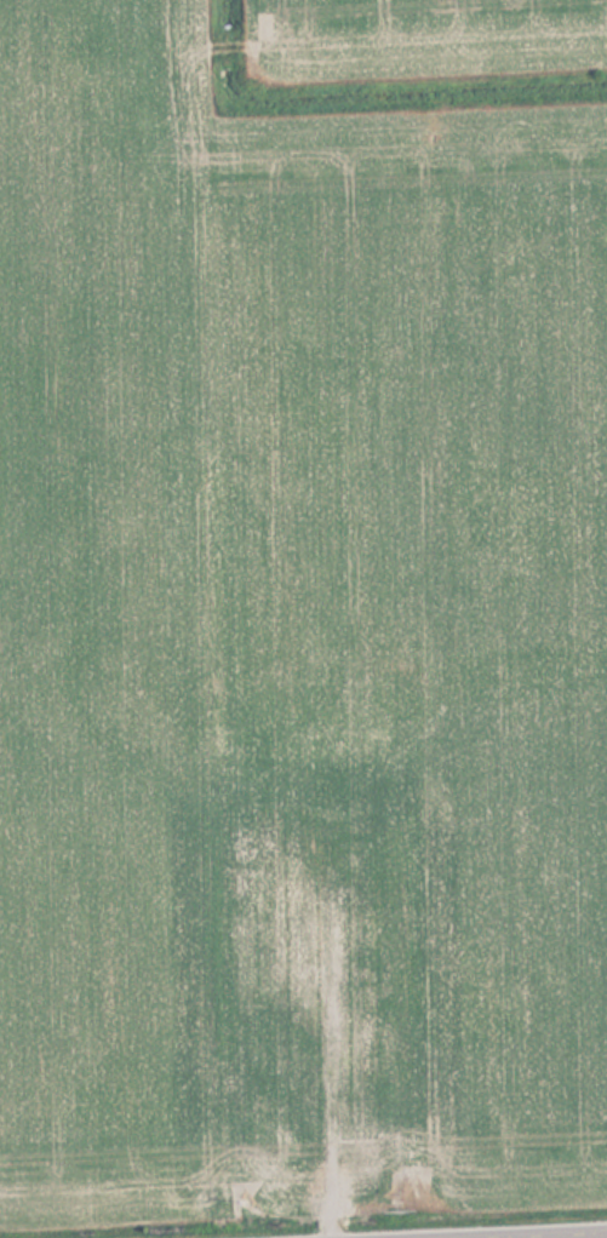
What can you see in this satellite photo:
building: (334, 911)
building: (280, 935)
building: (360, 1045)
road: (556, 1236)

